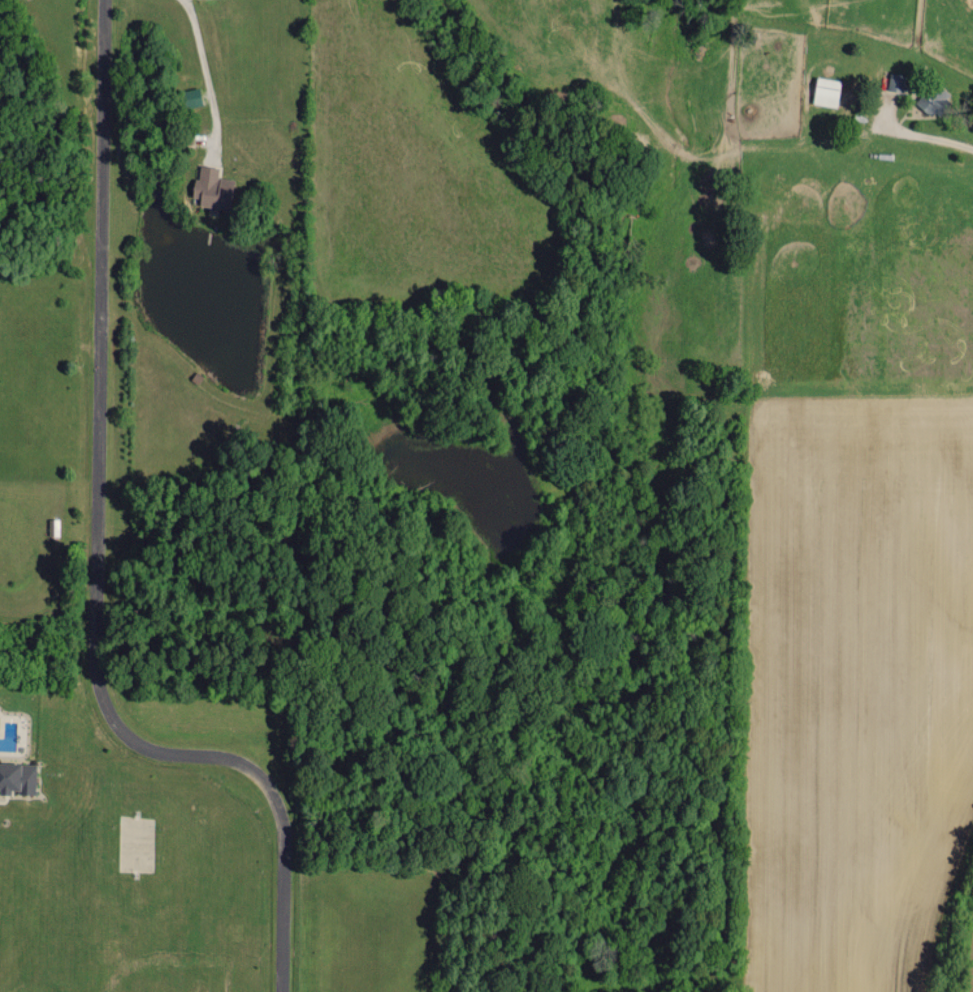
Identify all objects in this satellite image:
road: (207, 77)
building: (896, 81)
building: (826, 90)
building: (191, 96)
building: (933, 97)
road: (927, 136)
building: (212, 187)
road: (97, 554)
building: (17, 777)

